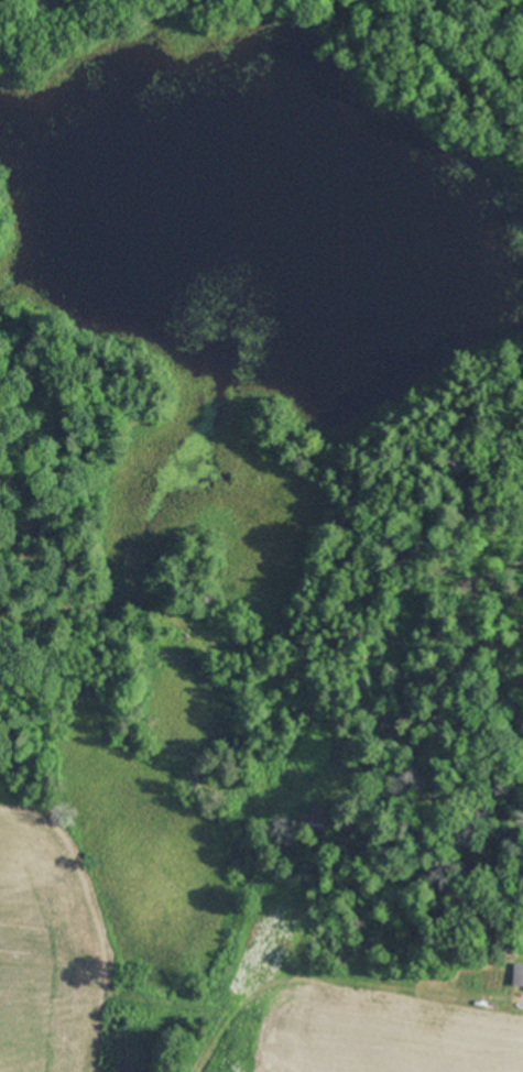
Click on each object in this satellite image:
building: (517, 974)

